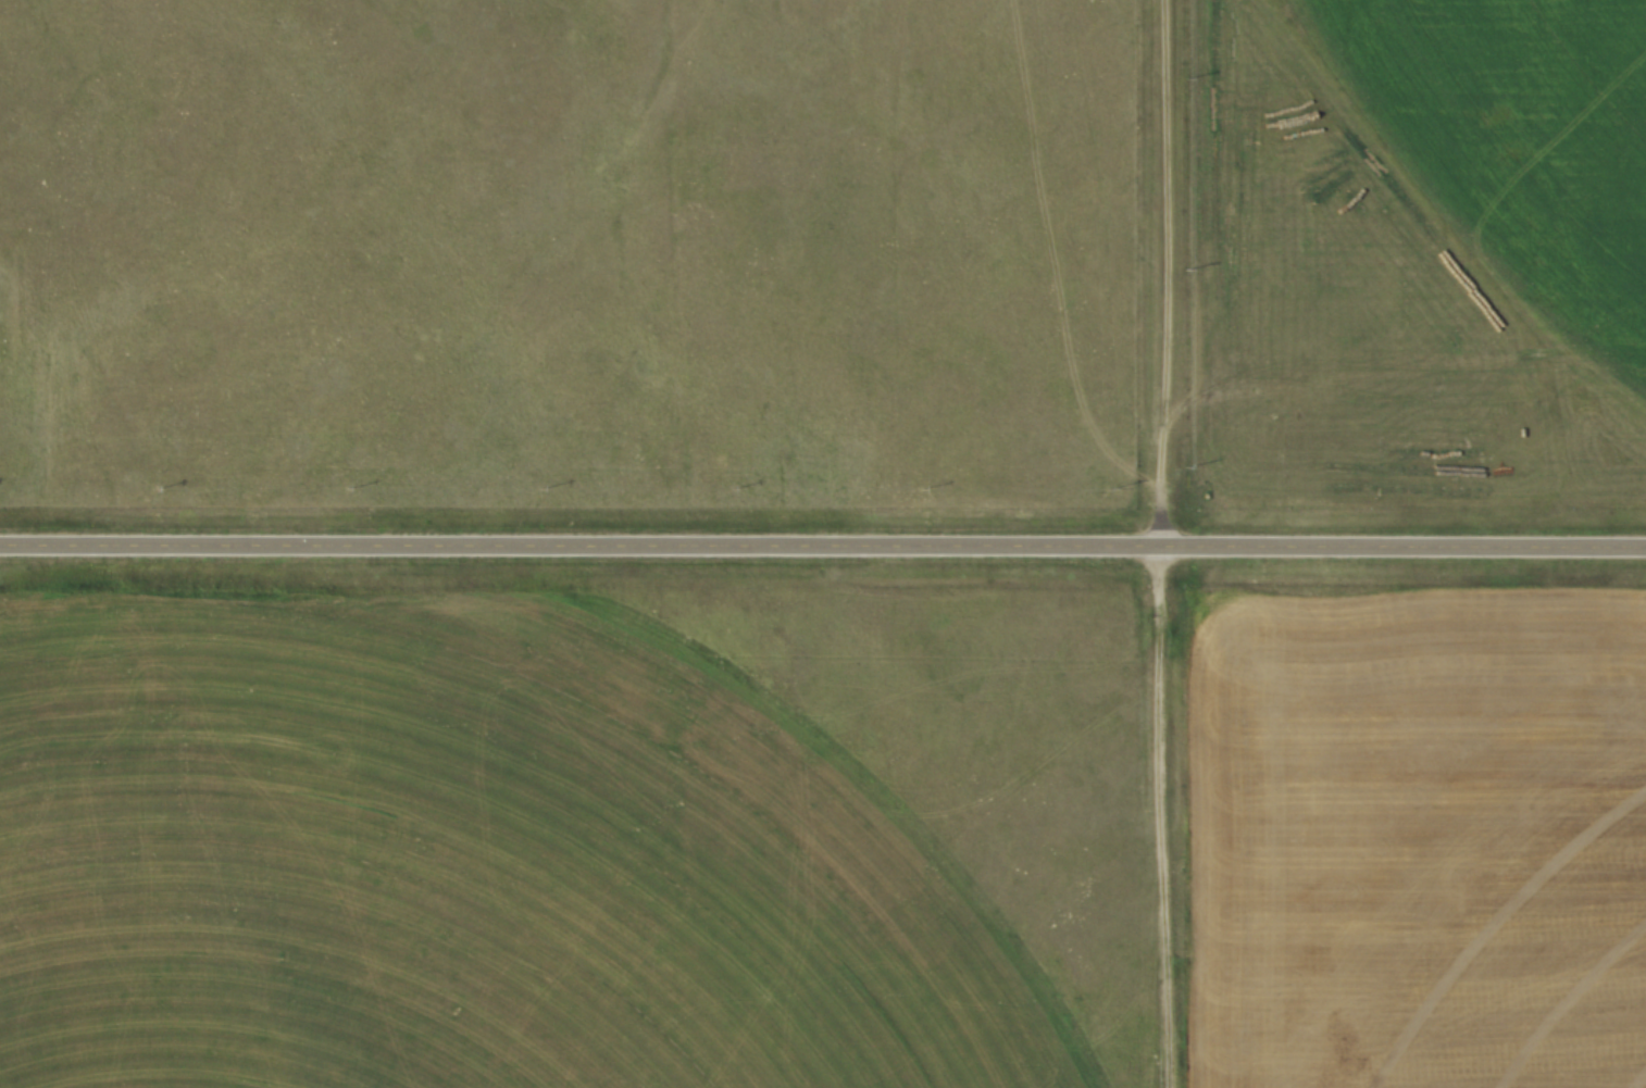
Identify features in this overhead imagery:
road: (1160, 271)
road: (823, 540)

